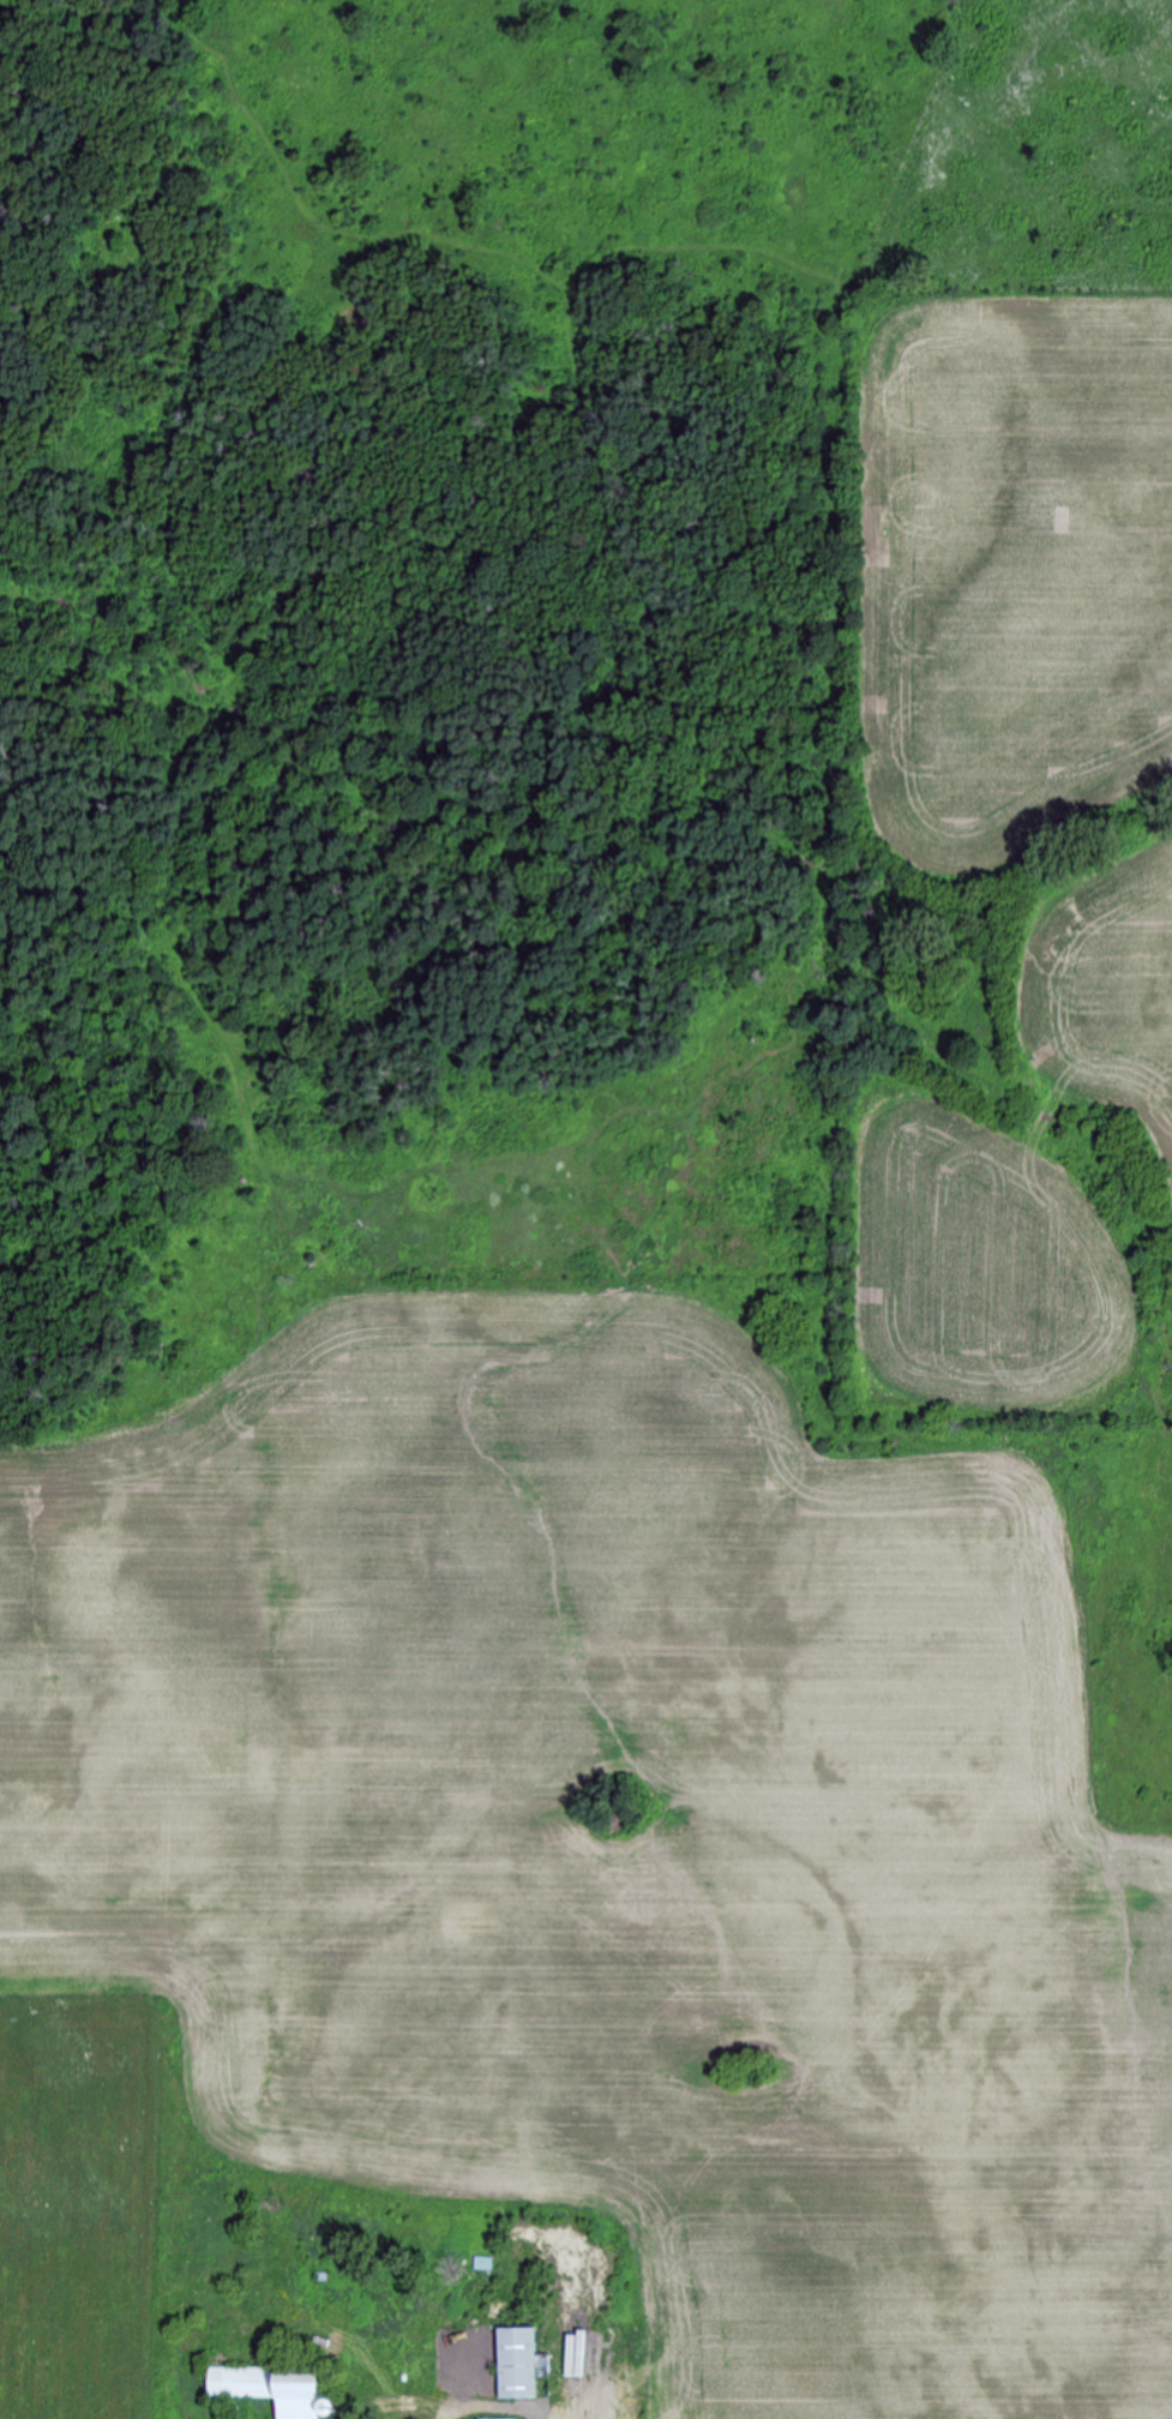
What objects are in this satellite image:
building: (485, 2264)
building: (524, 2366)
building: (274, 2389)
building: (230, 2413)

